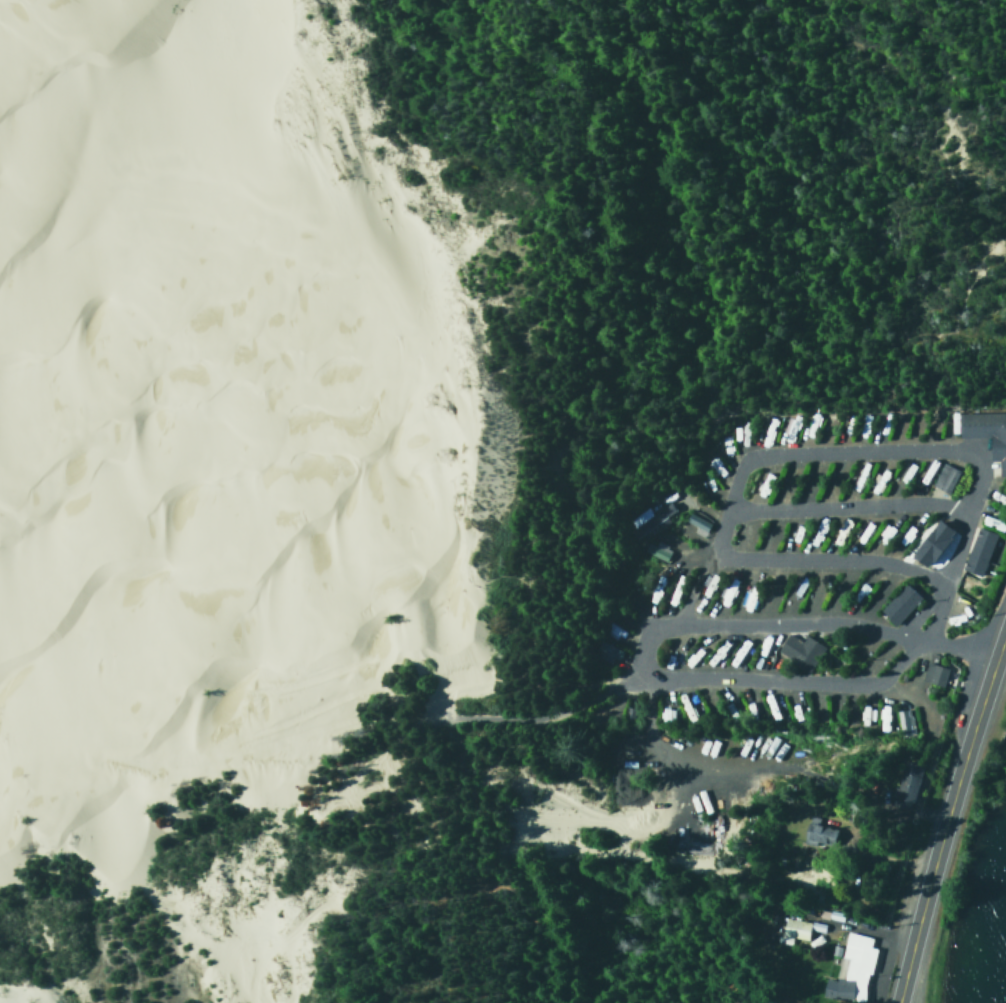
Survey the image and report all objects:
building: (986, 435)
building: (944, 478)
road: (837, 508)
building: (646, 518)
building: (695, 522)
road: (951, 538)
building: (930, 544)
building: (655, 550)
building: (977, 551)
road: (811, 564)
building: (898, 604)
road: (834, 621)
building: (604, 650)
building: (799, 650)
building: (932, 673)
building: (902, 722)
building: (905, 783)
road: (947, 812)
building: (817, 835)
building: (792, 929)
building: (854, 965)
parking lot: (929, 966)

